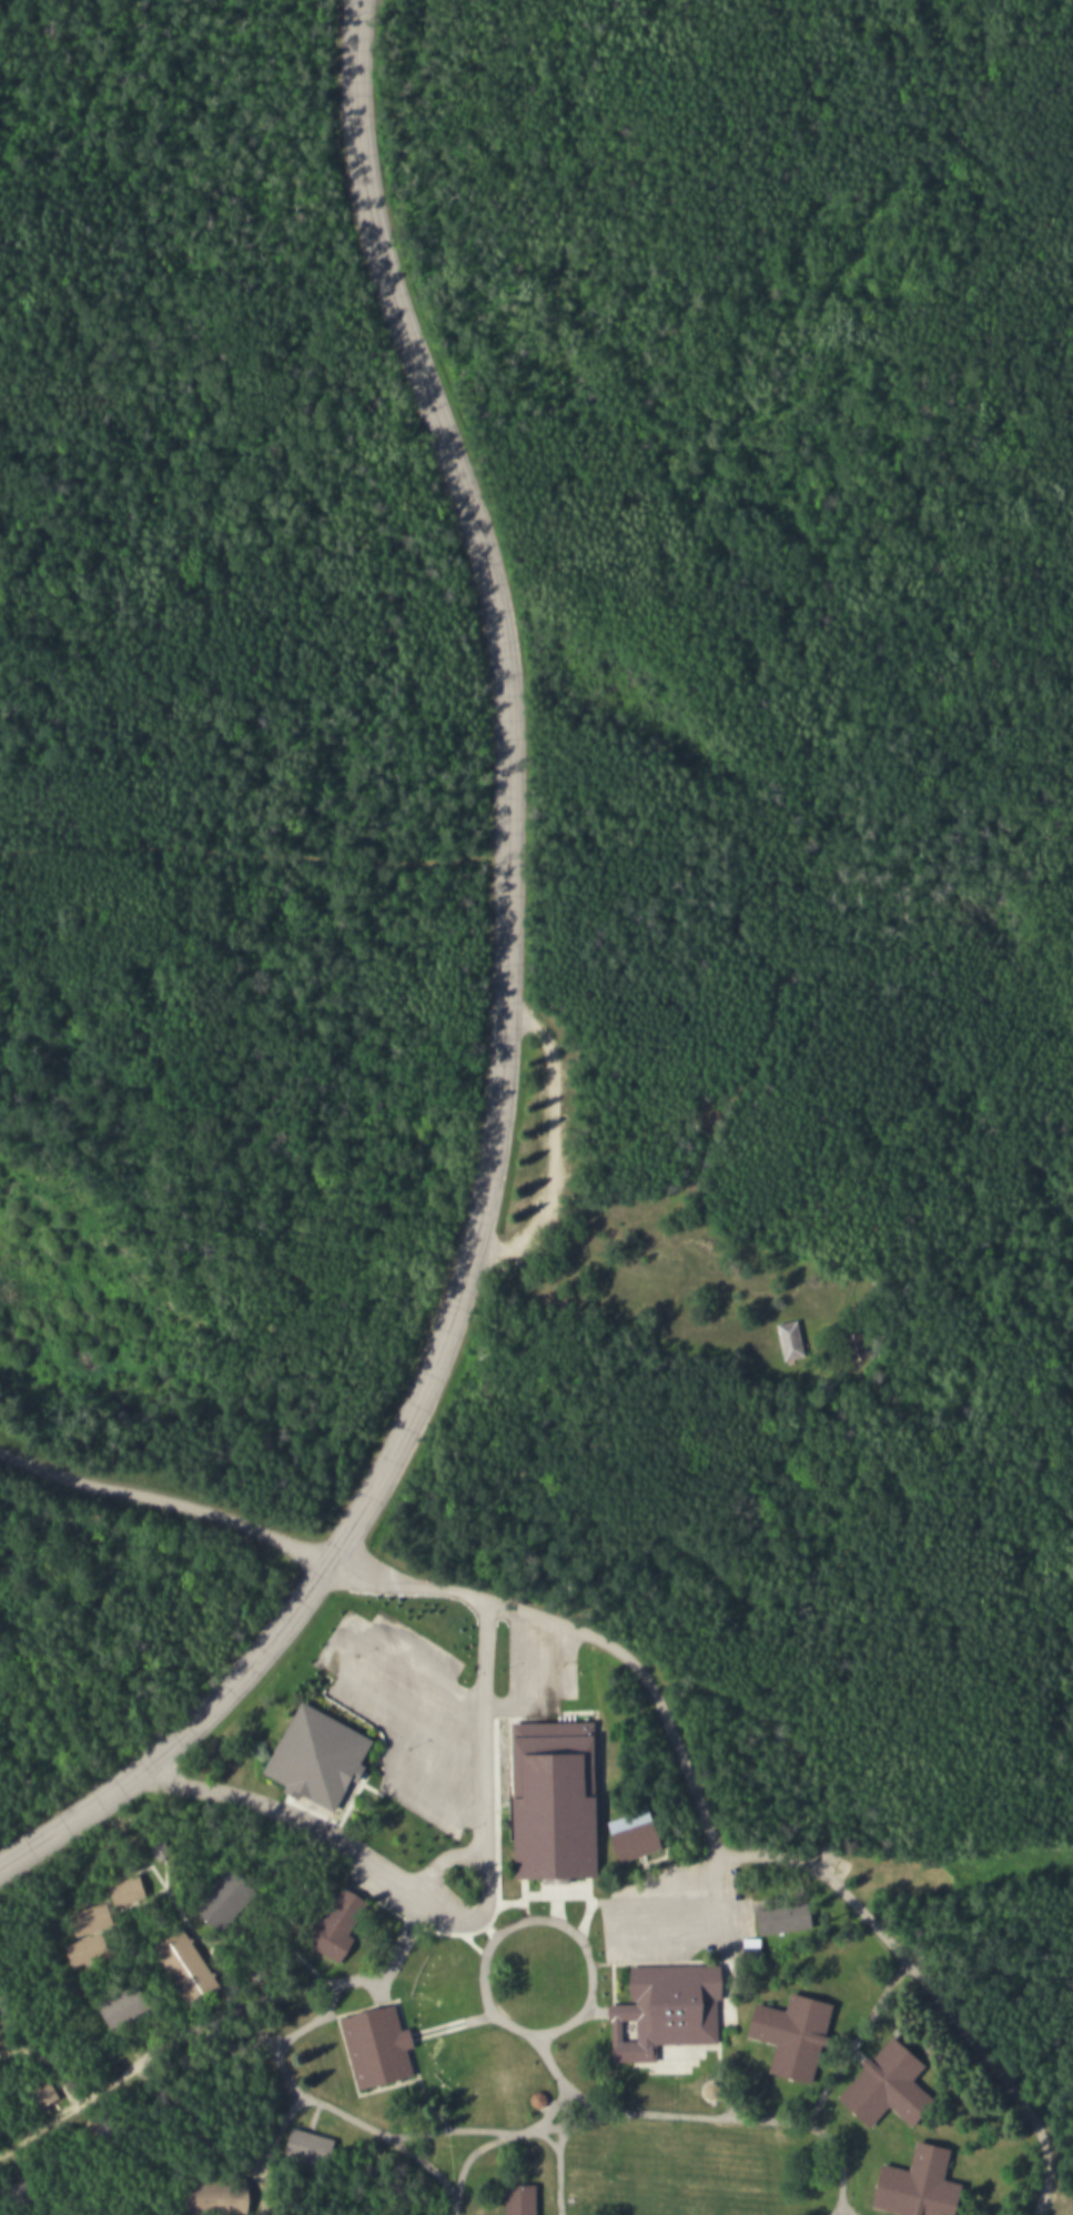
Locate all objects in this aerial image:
road: (500, 1009)
park: (536, 1107)
road: (547, 1139)
building: (792, 1340)
road: (162, 1497)
road: (395, 1582)
road: (638, 1675)
parking lot: (433, 1753)
building: (314, 1754)
road: (254, 1793)
building: (545, 1794)
road: (478, 1823)
building: (627, 1833)
road: (490, 1850)
road: (437, 1855)
building: (117, 1886)
road: (533, 1893)
building: (215, 1896)
parking lot: (670, 1912)
building: (775, 1915)
building: (80, 1916)
building: (327, 1923)
road: (487, 1936)
building: (74, 1949)
building: (175, 1962)
road: (351, 1977)
road: (220, 1982)
road: (921, 1985)
building: (656, 2006)
road: (449, 2024)
building: (783, 2028)
road: (151, 2047)
building: (378, 2047)
road: (43, 2061)
building: (892, 2088)
building: (529, 2096)
road: (334, 2108)
road: (737, 2117)
road: (37, 2126)
road: (437, 2133)
road: (490, 2133)
road: (261, 2152)
road: (554, 2166)
building: (921, 2187)
building: (209, 2194)
building: (513, 2196)

